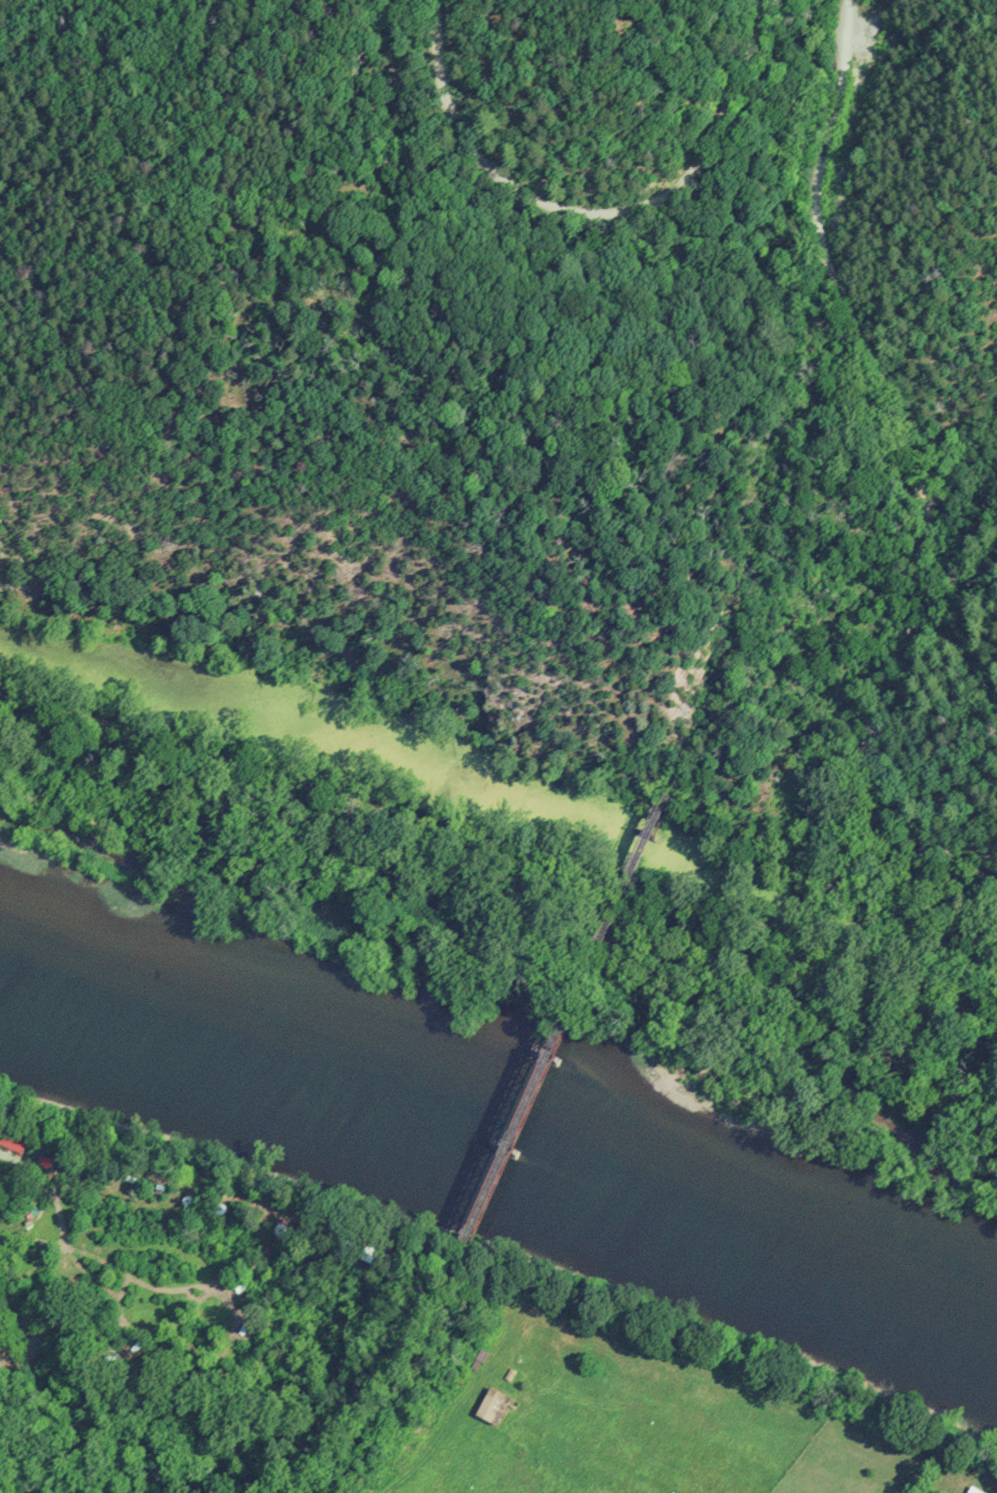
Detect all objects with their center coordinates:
road: (594, 214)
road: (917, 469)
road: (498, 848)
river: (498, 1137)
building: (494, 1408)
building: (972, 1491)

